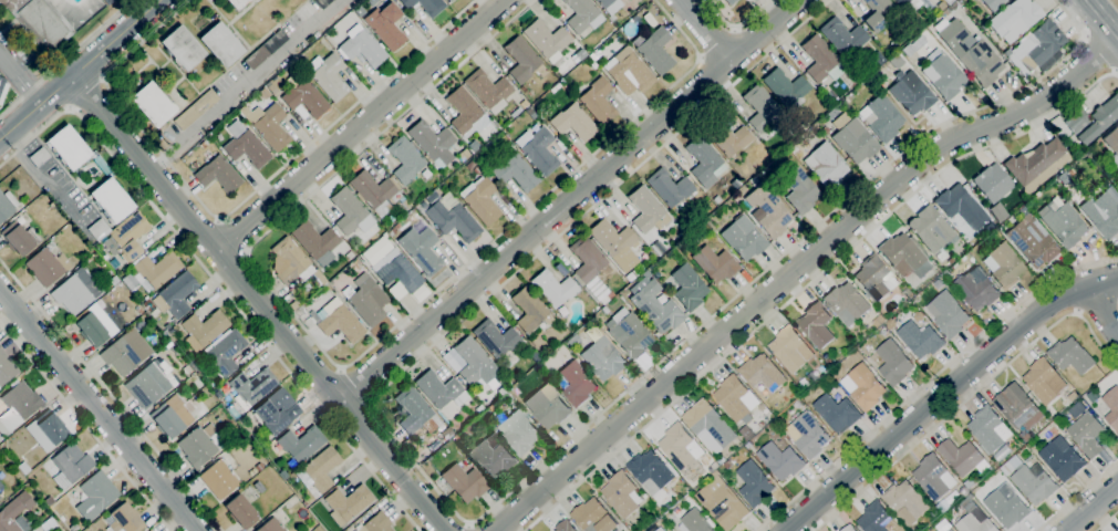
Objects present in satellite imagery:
building: (449, 0)
building: (749, 0)
building: (755, 0)
building: (105, 1)
building: (108, 1)
building: (729, 1)
building: (948, 1)
building: (238, 3)
building: (322, 3)
building: (909, 3)
building: (610, 4)
building: (992, 4)
building: (425, 6)
building: (941, 6)
building: (360, 11)
building: (878, 13)
building: (582, 14)
road: (1105, 15)
building: (1014, 19)
building: (40, 22)
building: (386, 25)
road: (735, 27)
road: (706, 31)
building: (843, 37)
building: (546, 39)
road: (716, 42)
building: (221, 44)
building: (1041, 44)
building: (362, 46)
building: (183, 49)
building: (266, 50)
building: (654, 50)
building: (908, 50)
building: (971, 53)
building: (580, 54)
road: (1098, 54)
building: (592, 56)
road: (66, 58)
building: (521, 59)
building: (821, 60)
building: (897, 61)
building: (593, 65)
road: (81, 70)
building: (629, 72)
building: (328, 75)
building: (946, 75)
road: (20, 79)
road: (249, 84)
building: (487, 87)
building: (556, 87)
building: (272, 88)
building: (787, 88)
building: (2, 90)
road: (86, 92)
building: (911, 92)
building: (265, 93)
building: (304, 98)
building: (598, 101)
building: (524, 103)
building: (153, 104)
building: (763, 108)
building: (196, 110)
building: (466, 111)
building: (515, 112)
building: (832, 112)
building: (883, 118)
building: (1100, 119)
building: (1076, 121)
road: (360, 123)
building: (573, 123)
building: (271, 127)
building: (815, 129)
building: (825, 129)
building: (727, 137)
building: (852, 138)
building: (432, 142)
building: (1112, 143)
building: (203, 145)
building: (68, 147)
building: (247, 148)
building: (537, 148)
building: (475, 150)
building: (465, 156)
building: (39, 157)
building: (405, 159)
building: (704, 159)
building: (102, 165)
building: (470, 165)
building: (826, 165)
building: (1037, 165)
building: (477, 169)
building: (516, 173)
building: (218, 174)
building: (1117, 174)
building: (1065, 176)
building: (753, 181)
building: (992, 183)
building: (670, 187)
building: (800, 190)
building: (375, 192)
road: (572, 199)
building: (716, 199)
building: (111, 200)
building: (480, 200)
building: (406, 204)
building: (7, 205)
road: (231, 205)
building: (961, 206)
building: (1022, 209)
building: (648, 210)
building: (769, 210)
building: (350, 212)
building: (1104, 212)
building: (390, 218)
building: (452, 218)
building: (1064, 223)
building: (396, 226)
building: (96, 231)
building: (391, 231)
building: (932, 231)
road: (229, 236)
building: (20, 237)
building: (126, 237)
building: (744, 240)
building: (986, 240)
building: (315, 242)
building: (615, 243)
building: (1033, 243)
building: (421, 249)
building: (656, 249)
building: (349, 256)
building: (904, 257)
building: (586, 259)
building: (290, 261)
building: (715, 263)
building: (1003, 267)
building: (44, 268)
building: (158, 268)
road: (795, 269)
building: (398, 270)
building: (945, 274)
building: (873, 278)
building: (114, 280)
road: (809, 282)
road: (218, 283)
building: (938, 284)
building: (553, 288)
building: (687, 288)
building: (76, 291)
building: (976, 291)
building: (175, 294)
building: (610, 294)
road: (262, 302)
building: (369, 302)
building: (847, 303)
building: (654, 304)
road: (1097, 308)
building: (530, 310)
building: (604, 310)
road: (1105, 312)
building: (948, 315)
building: (311, 319)
building: (340, 321)
building: (878, 322)
building: (816, 325)
building: (206, 327)
building: (92, 330)
building: (883, 330)
building: (630, 335)
building: (495, 337)
building: (920, 340)
building: (572, 341)
building: (536, 342)
building: (790, 350)
building: (126, 352)
building: (224, 353)
building: (602, 355)
building: (1072, 356)
building: (474, 363)
building: (830, 363)
building: (893, 363)
building: (194, 365)
road: (344, 365)
building: (6, 367)
building: (190, 372)
building: (763, 373)
road: (929, 381)
building: (1044, 382)
building: (577, 384)
building: (147, 386)
road: (355, 386)
building: (250, 387)
building: (866, 387)
building: (441, 389)
building: (501, 389)
road: (944, 392)
road: (111, 395)
building: (1073, 396)
road: (971, 397)
building: (736, 398)
building: (19, 405)
building: (491, 406)
building: (548, 406)
building: (479, 408)
building: (1017, 408)
building: (1112, 408)
road: (99, 410)
building: (277, 410)
building: (416, 412)
building: (234, 413)
building: (485, 414)
building: (837, 414)
building: (170, 417)
building: (255, 419)
building: (710, 424)
building: (51, 426)
road: (85, 426)
building: (990, 429)
building: (1085, 430)
building: (446, 433)
building: (519, 433)
building: (808, 436)
building: (1024, 437)
building: (494, 440)
building: (301, 444)
building: (200, 445)
building: (748, 446)
building: (677, 447)
building: (493, 458)
building: (963, 458)
building: (781, 460)
building: (1062, 461)
building: (291, 462)
building: (70, 465)
building: (23, 468)
building: (256, 468)
building: (321, 468)
building: (715, 473)
building: (283, 475)
building: (652, 475)
building: (934, 478)
building: (219, 479)
building: (464, 482)
building: (970, 483)
building: (1034, 483)
building: (754, 485)
building: (1, 487)
building: (259, 487)
building: (96, 494)
building: (622, 494)
road: (1078, 496)
building: (0, 497)
building: (49, 500)
building: (905, 500)
building: (348, 503)
road: (495, 504)
building: (723, 507)
building: (1006, 507)
road: (1093, 509)
building: (241, 511)
building: (15, 513)
building: (935, 514)
building: (593, 517)
building: (874, 518)
building: (124, 519)
road: (1107, 521)
building: (694, 522)
building: (975, 522)
building: (377, 523)
building: (271, 525)
building: (73, 527)
road: (470, 527)
building: (565, 527)
building: (849, 529)
building: (660, 530)
building: (948, 530)
building: (950, 530)

